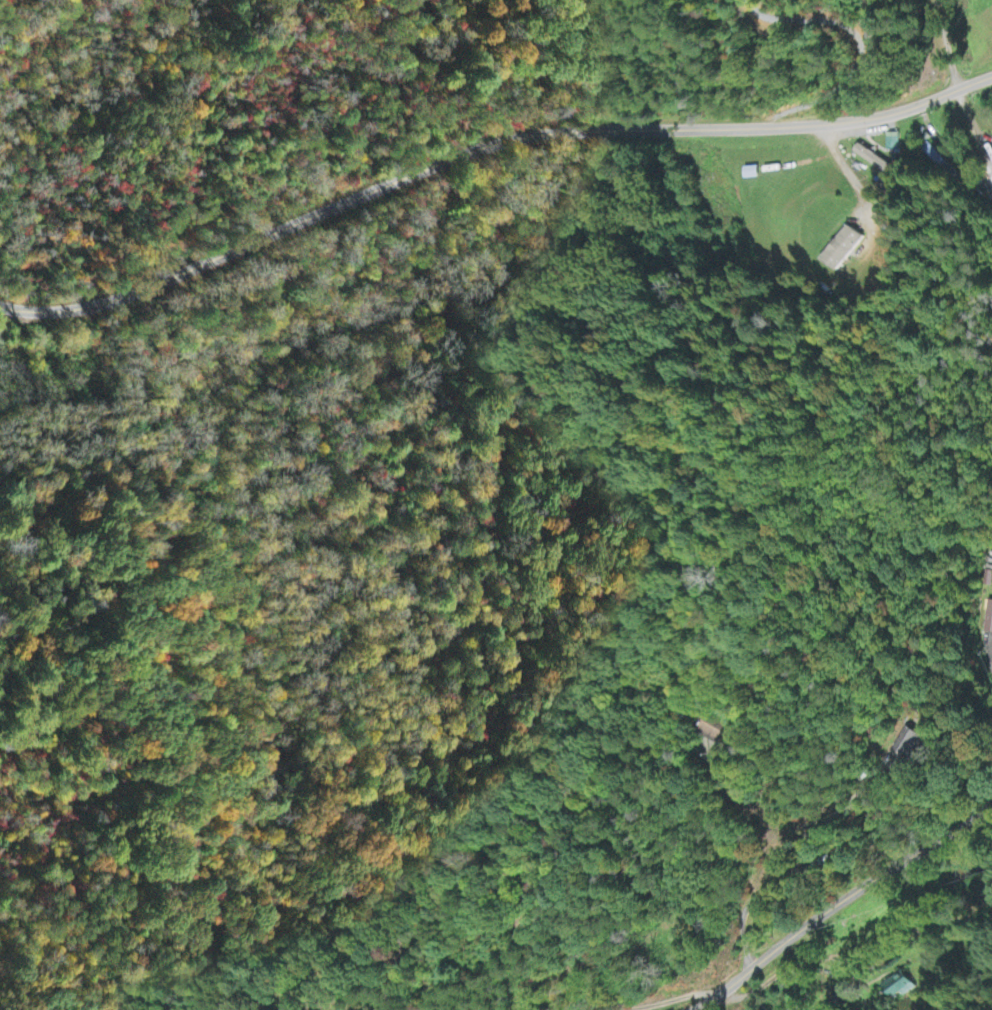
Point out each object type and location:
road: (592, 74)
building: (892, 145)
building: (936, 160)
building: (874, 161)
road: (494, 191)
building: (991, 195)
road: (540, 223)
building: (842, 249)
building: (988, 619)
building: (713, 731)
building: (908, 744)
road: (838, 905)
park: (308, 981)
road: (660, 1001)

